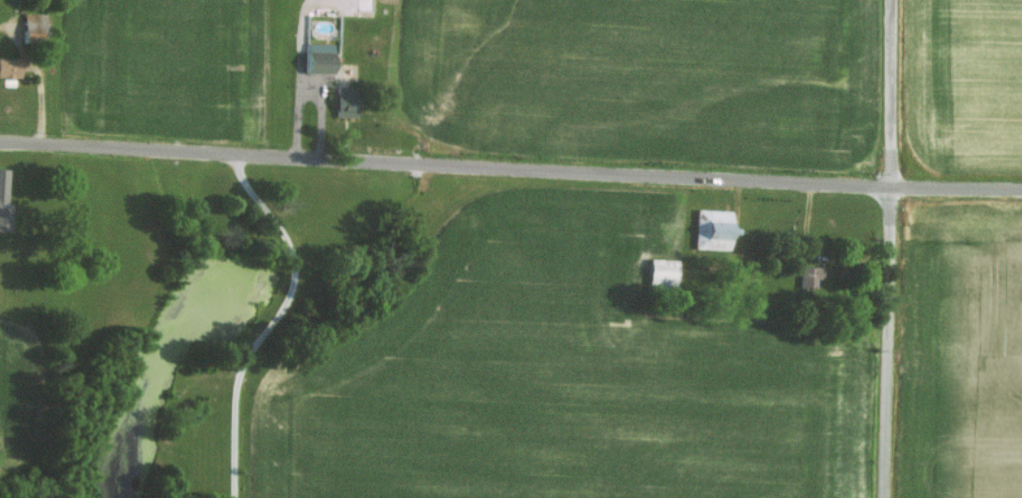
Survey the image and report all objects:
building: (29, 22)
building: (315, 56)
building: (6, 67)
building: (342, 108)
road: (300, 109)
road: (508, 180)
building: (2, 201)
building: (709, 229)
road: (886, 248)
building: (657, 271)
building: (806, 276)
road: (282, 318)

